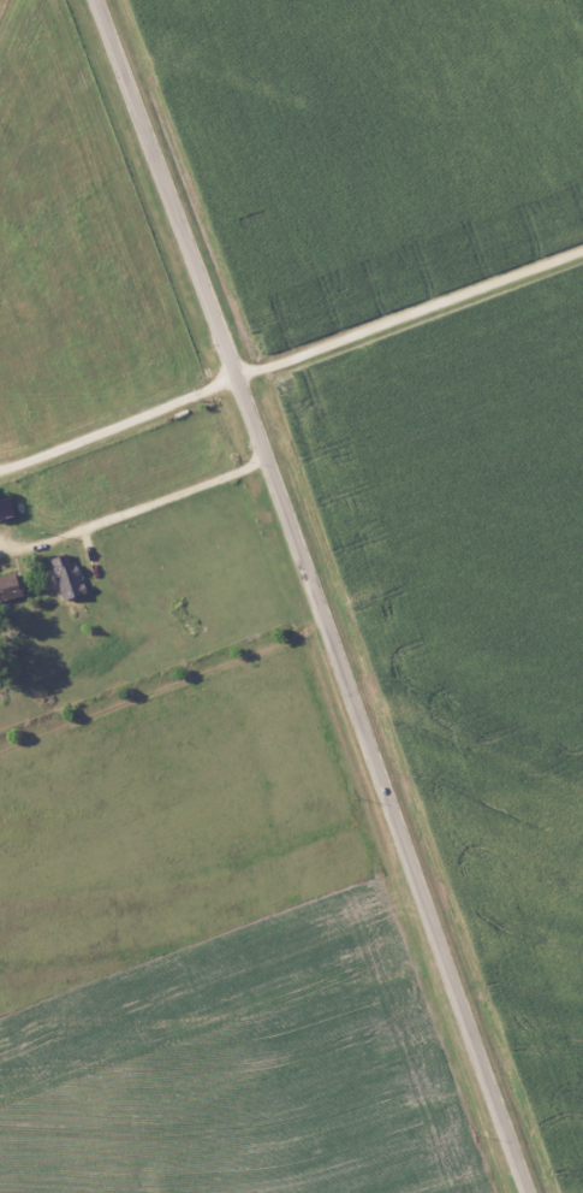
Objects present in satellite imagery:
road: (410, 315)
road: (118, 426)
road: (153, 504)
building: (6, 581)
building: (67, 581)
road: (315, 595)

